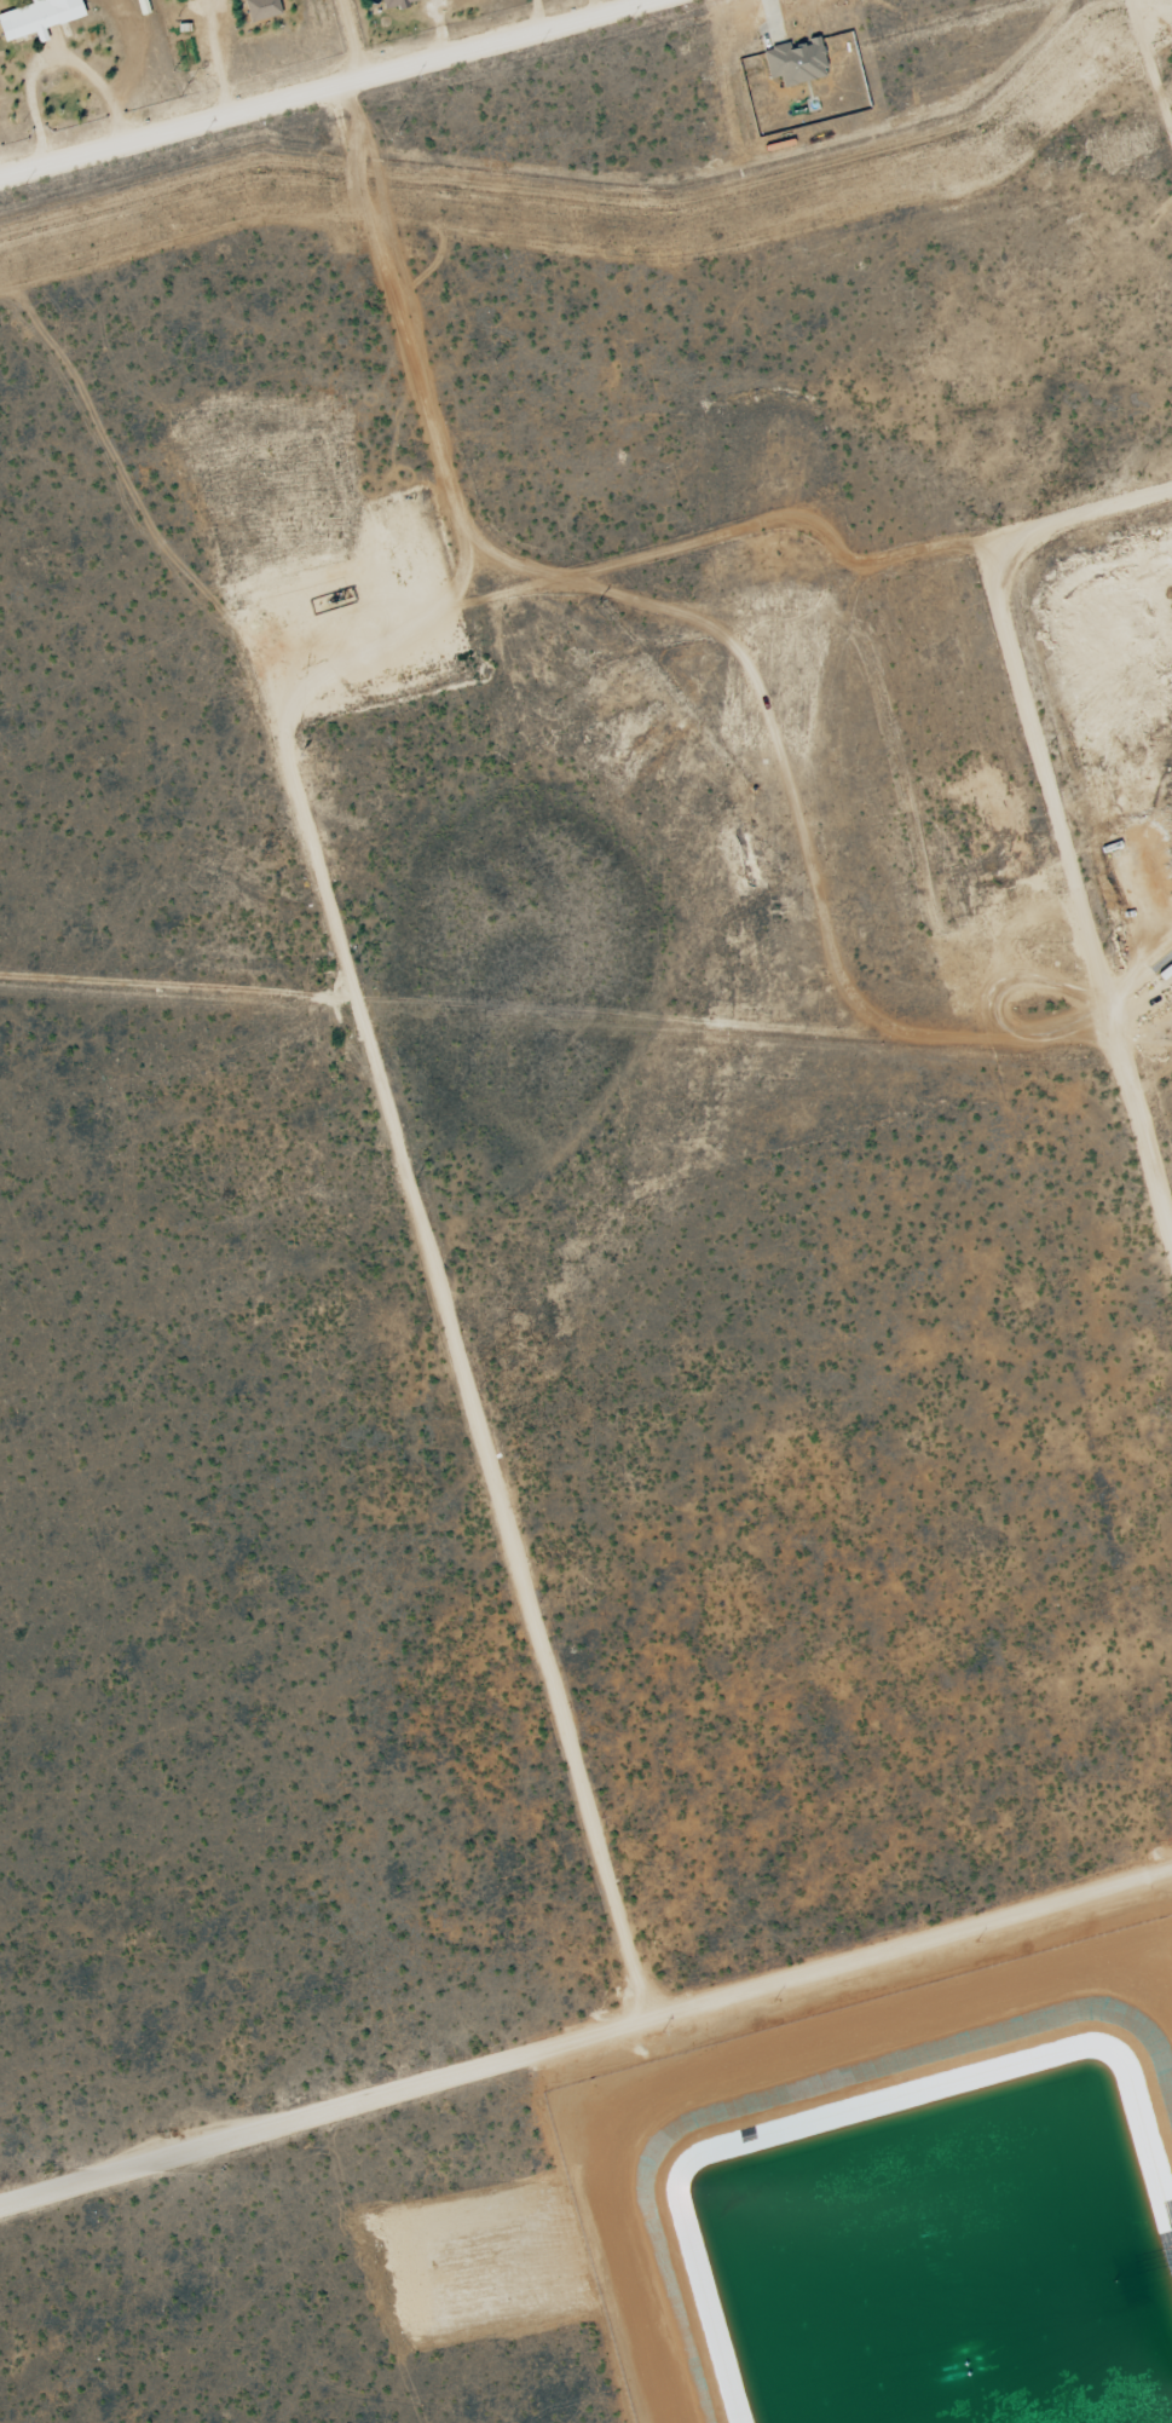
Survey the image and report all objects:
building: (396, 4)
building: (260, 10)
building: (27, 22)
building: (793, 63)
road: (312, 85)

